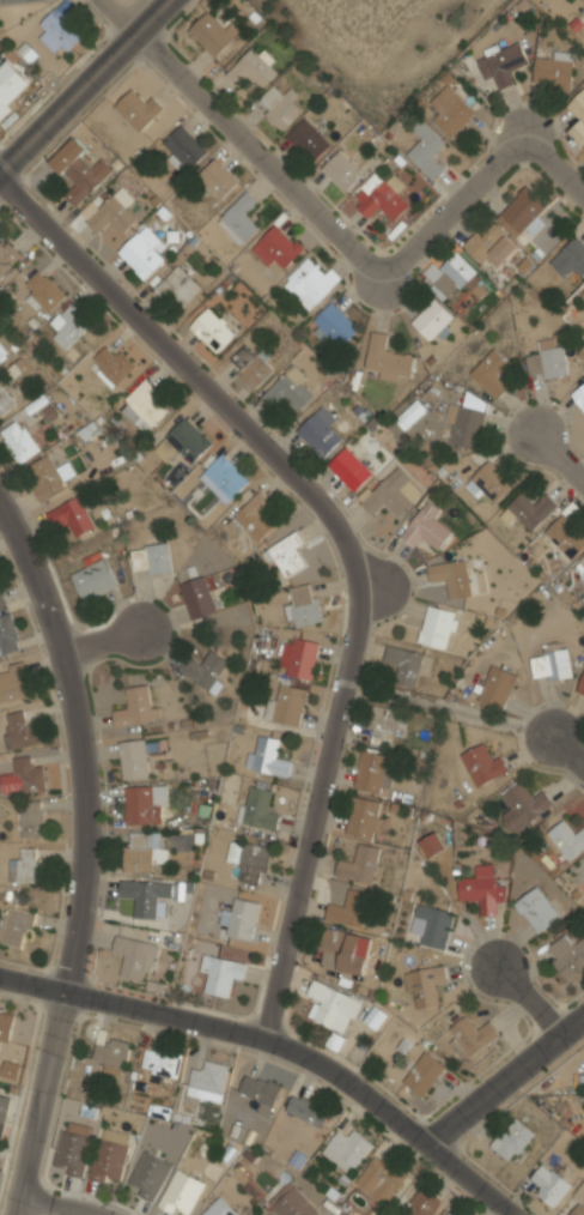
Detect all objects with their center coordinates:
building: (11, 0)
road: (122, 13)
building: (60, 29)
building: (213, 34)
building: (501, 62)
building: (253, 67)
building: (553, 68)
road: (81, 79)
building: (10, 85)
building: (279, 105)
building: (138, 109)
building: (450, 110)
building: (578, 114)
building: (308, 139)
building: (183, 146)
building: (426, 150)
building: (80, 168)
building: (342, 170)
building: (217, 179)
building: (382, 199)
building: (522, 210)
building: (111, 212)
building: (239, 217)
building: (276, 246)
building: (491, 246)
road: (365, 247)
building: (141, 250)
building: (7, 254)
building: (570, 258)
building: (451, 276)
building: (308, 279)
building: (181, 285)
building: (43, 290)
building: (583, 292)
building: (432, 320)
building: (333, 324)
building: (68, 325)
building: (212, 328)
building: (2, 353)
building: (387, 358)
building: (548, 359)
building: (111, 364)
building: (250, 365)
building: (492, 371)
building: (288, 391)
building: (579, 395)
building: (145, 405)
building: (410, 413)
building: (467, 419)
building: (320, 431)
road: (561, 433)
building: (19, 440)
building: (182, 442)
building: (349, 469)
building: (224, 477)
building: (48, 478)
building: (488, 482)
building: (391, 492)
building: (529, 509)
building: (73, 515)
building: (253, 518)
building: (426, 527)
building: (566, 536)
road: (351, 538)
building: (286, 555)
building: (151, 558)
building: (580, 566)
building: (451, 576)
building: (93, 578)
building: (197, 597)
building: (1, 603)
building: (304, 605)
building: (437, 627)
building: (7, 635)
road: (105, 637)
building: (297, 657)
building: (552, 663)
building: (407, 665)
building: (206, 670)
building: (13, 684)
building: (580, 684)
building: (497, 687)
building: (286, 705)
building: (136, 707)
road: (450, 711)
building: (383, 725)
building: (20, 730)
road: (568, 754)
building: (134, 756)
building: (267, 756)
building: (482, 763)
building: (371, 772)
building: (23, 776)
road: (81, 780)
building: (144, 803)
building: (522, 805)
building: (257, 808)
building: (365, 817)
building: (32, 818)
building: (567, 836)
building: (432, 845)
building: (142, 850)
building: (583, 858)
building: (248, 859)
building: (360, 863)
building: (582, 863)
building: (25, 865)
building: (481, 888)
building: (144, 895)
building: (349, 909)
building: (537, 909)
building: (241, 918)
building: (431, 925)
building: (18, 926)
building: (343, 950)
building: (133, 955)
building: (567, 956)
building: (220, 973)
building: (424, 984)
road: (529, 986)
building: (333, 1007)
building: (6, 1026)
building: (470, 1035)
road: (279, 1042)
building: (111, 1052)
building: (162, 1064)
building: (424, 1072)
road: (505, 1076)
building: (208, 1080)
building: (260, 1093)
building: (567, 1101)
building: (5, 1108)
building: (306, 1110)
building: (512, 1140)
road: (32, 1147)
building: (73, 1148)
building: (346, 1149)
building: (109, 1155)
building: (148, 1174)
building: (381, 1179)
building: (548, 1184)
building: (181, 1192)
building: (292, 1203)
road: (65, 1204)
building: (422, 1204)
building: (219, 1208)
building: (578, 1209)
building: (451, 1213)
building: (248, 1214)

